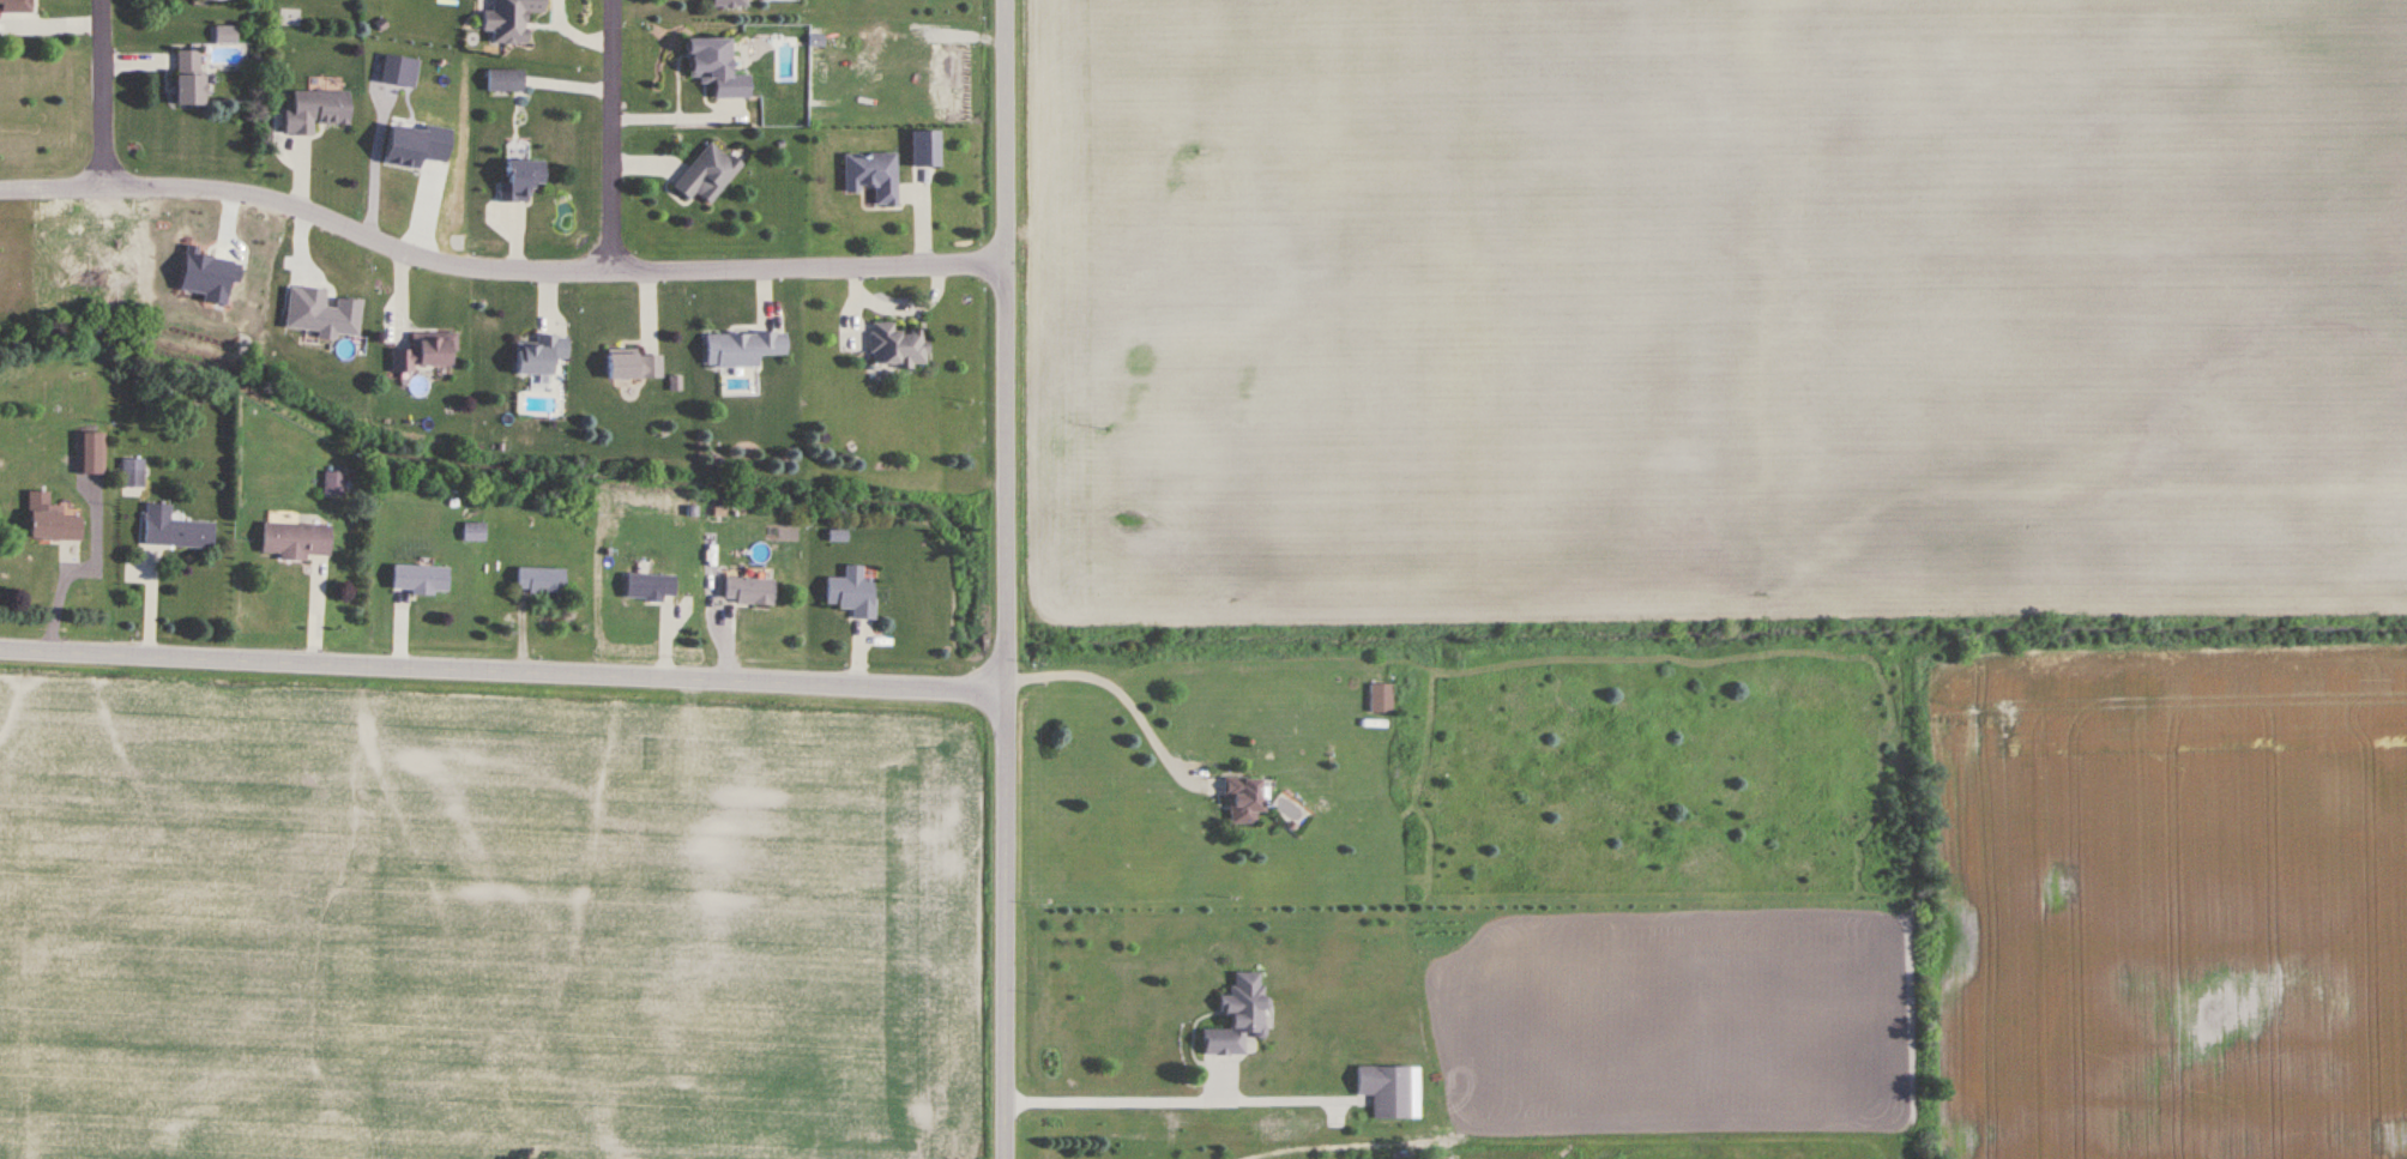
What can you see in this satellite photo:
building: (730, 4)
building: (14, 6)
building: (509, 20)
building: (225, 35)
building: (714, 70)
building: (188, 79)
building: (505, 82)
road: (102, 93)
building: (315, 113)
road: (672, 116)
road: (602, 132)
building: (923, 147)
building: (706, 175)
building: (871, 175)
building: (520, 181)
road: (497, 268)
building: (897, 346)
building: (742, 349)
building: (423, 352)
building: (539, 354)
building: (634, 366)
building: (89, 453)
building: (132, 475)
building: (333, 484)
building: (49, 520)
building: (174, 529)
building: (473, 532)
building: (294, 541)
building: (418, 579)
road: (1006, 579)
building: (539, 580)
building: (648, 587)
building: (747, 591)
building: (851, 592)
road: (503, 669)
road: (1122, 696)
building: (1380, 699)
building: (1242, 799)
building: (1237, 1016)
building: (1390, 1091)
road: (1105, 1095)

